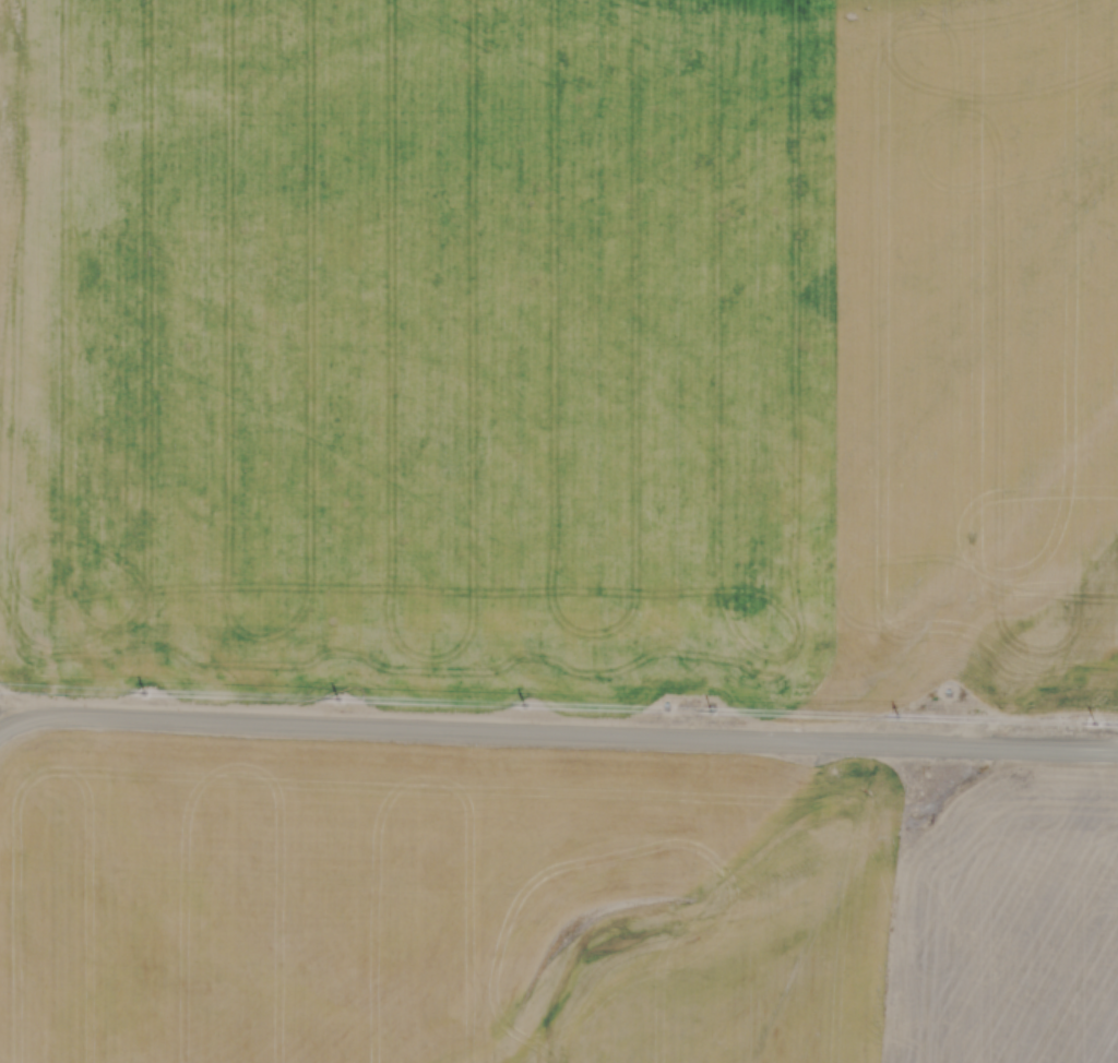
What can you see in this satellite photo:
road: (558, 722)

